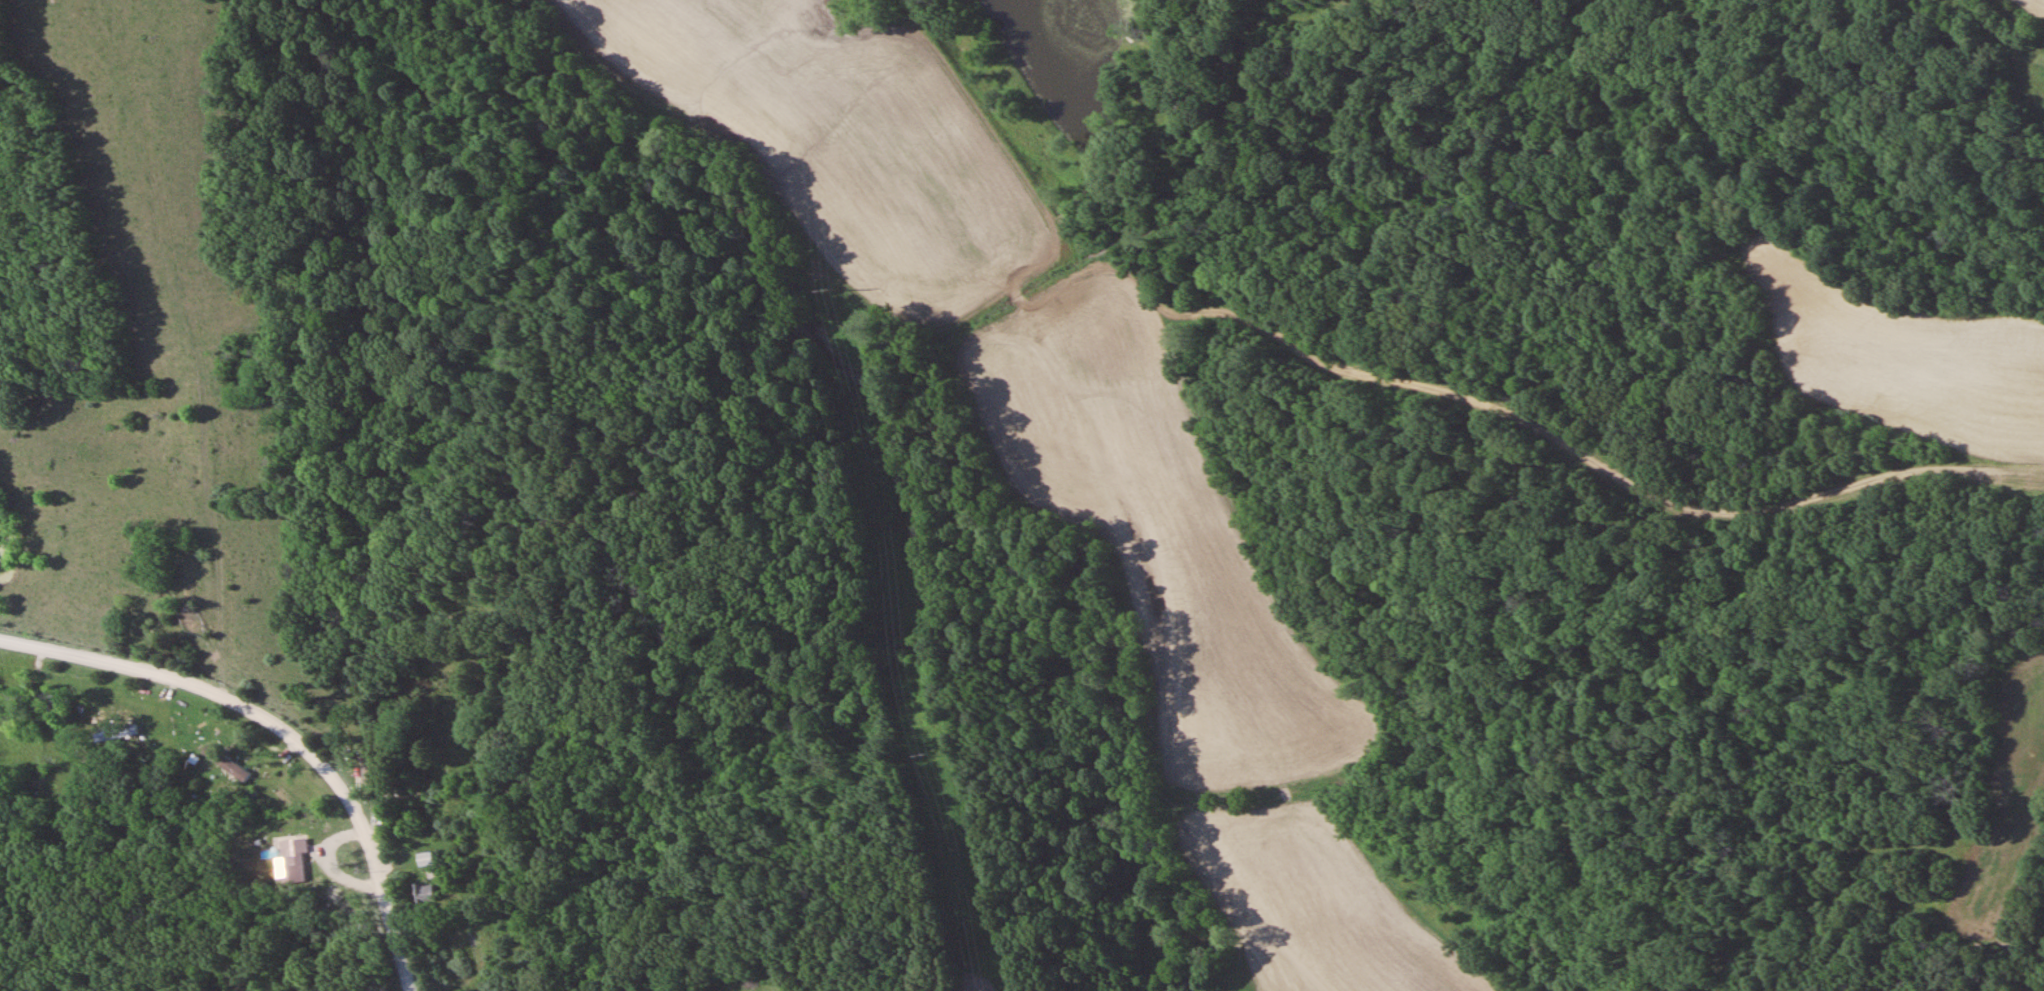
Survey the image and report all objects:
power tower: (825, 292)
road: (285, 723)
building: (116, 734)
building: (228, 764)
building: (370, 773)
building: (297, 853)
building: (424, 893)

